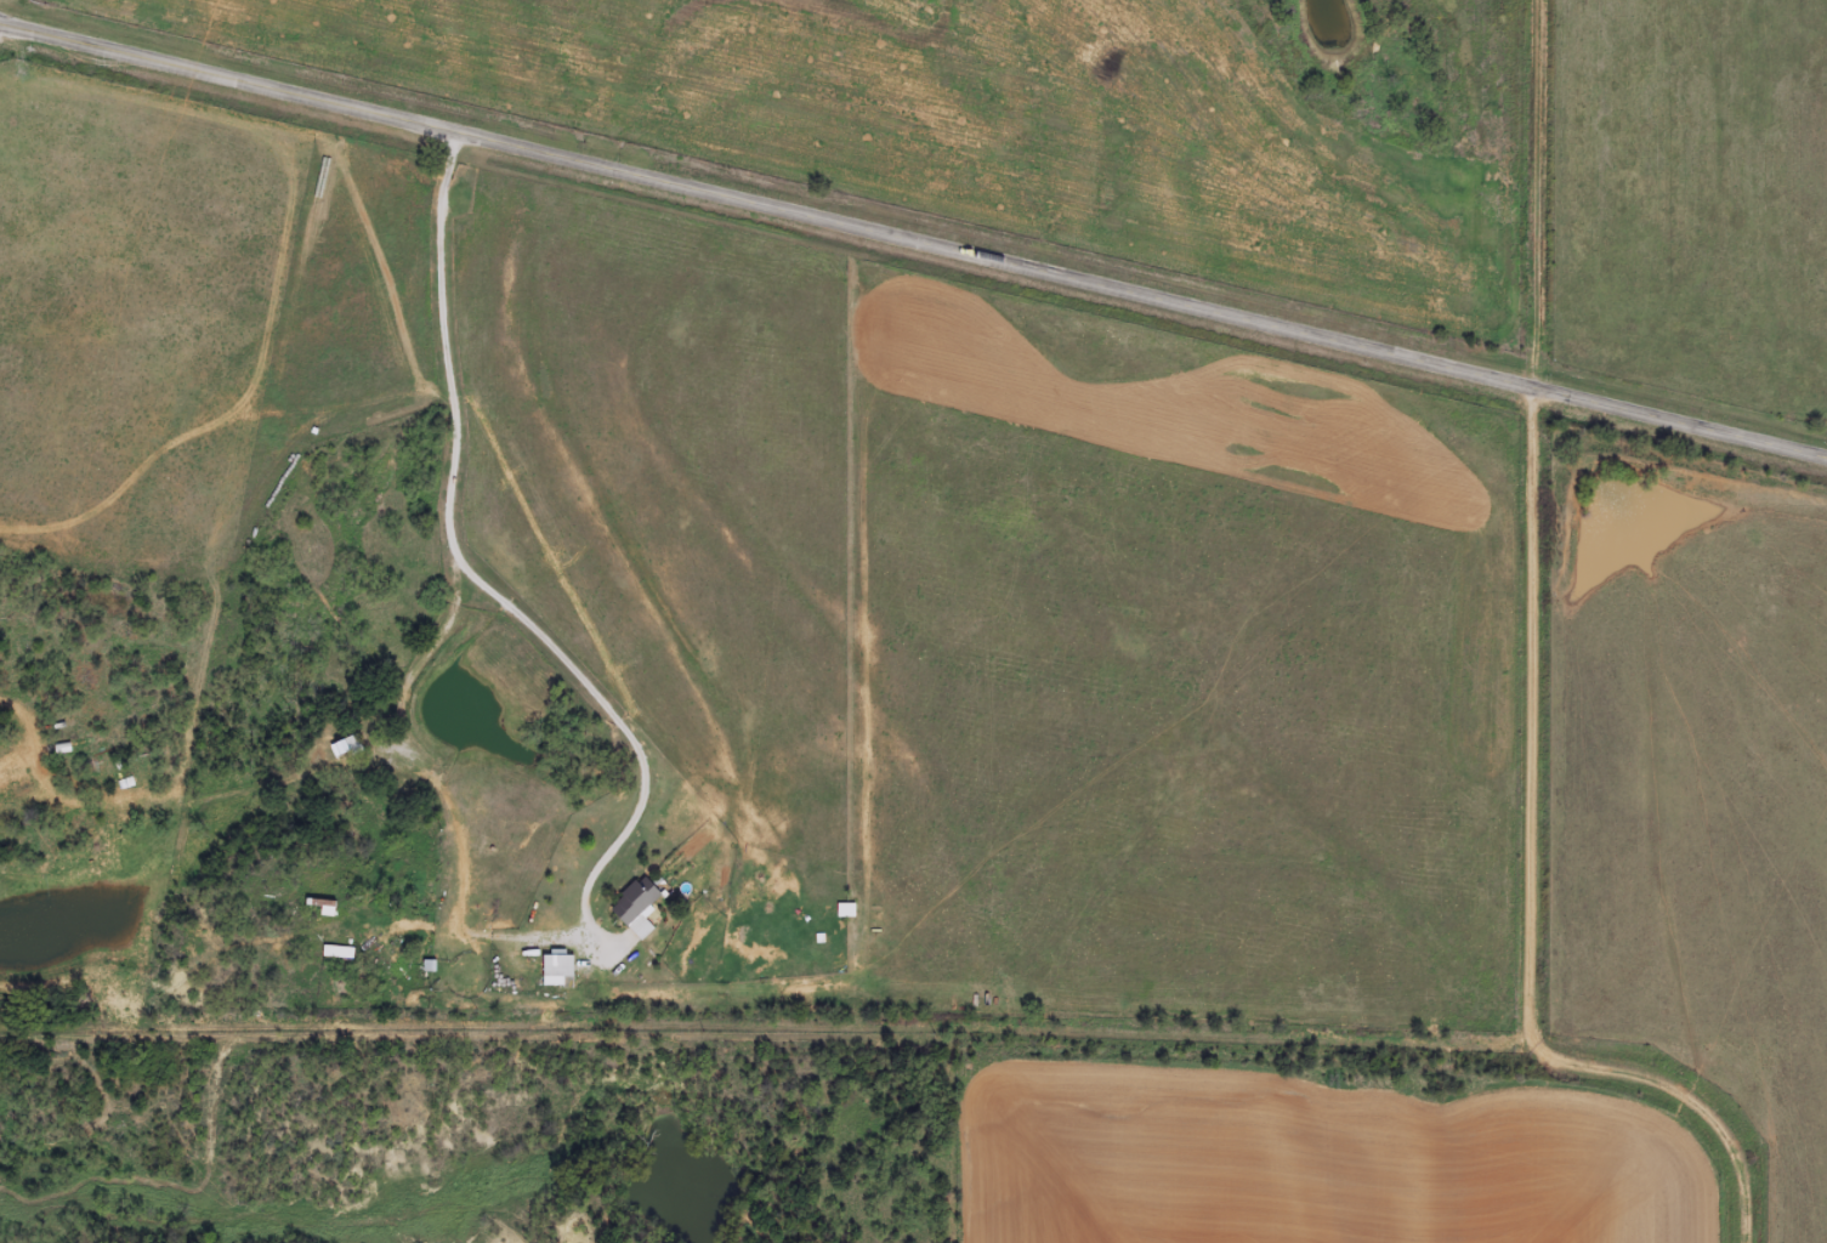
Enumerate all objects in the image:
road: (913, 242)
road: (1533, 685)
building: (639, 907)
building: (558, 969)
road: (790, 1028)

